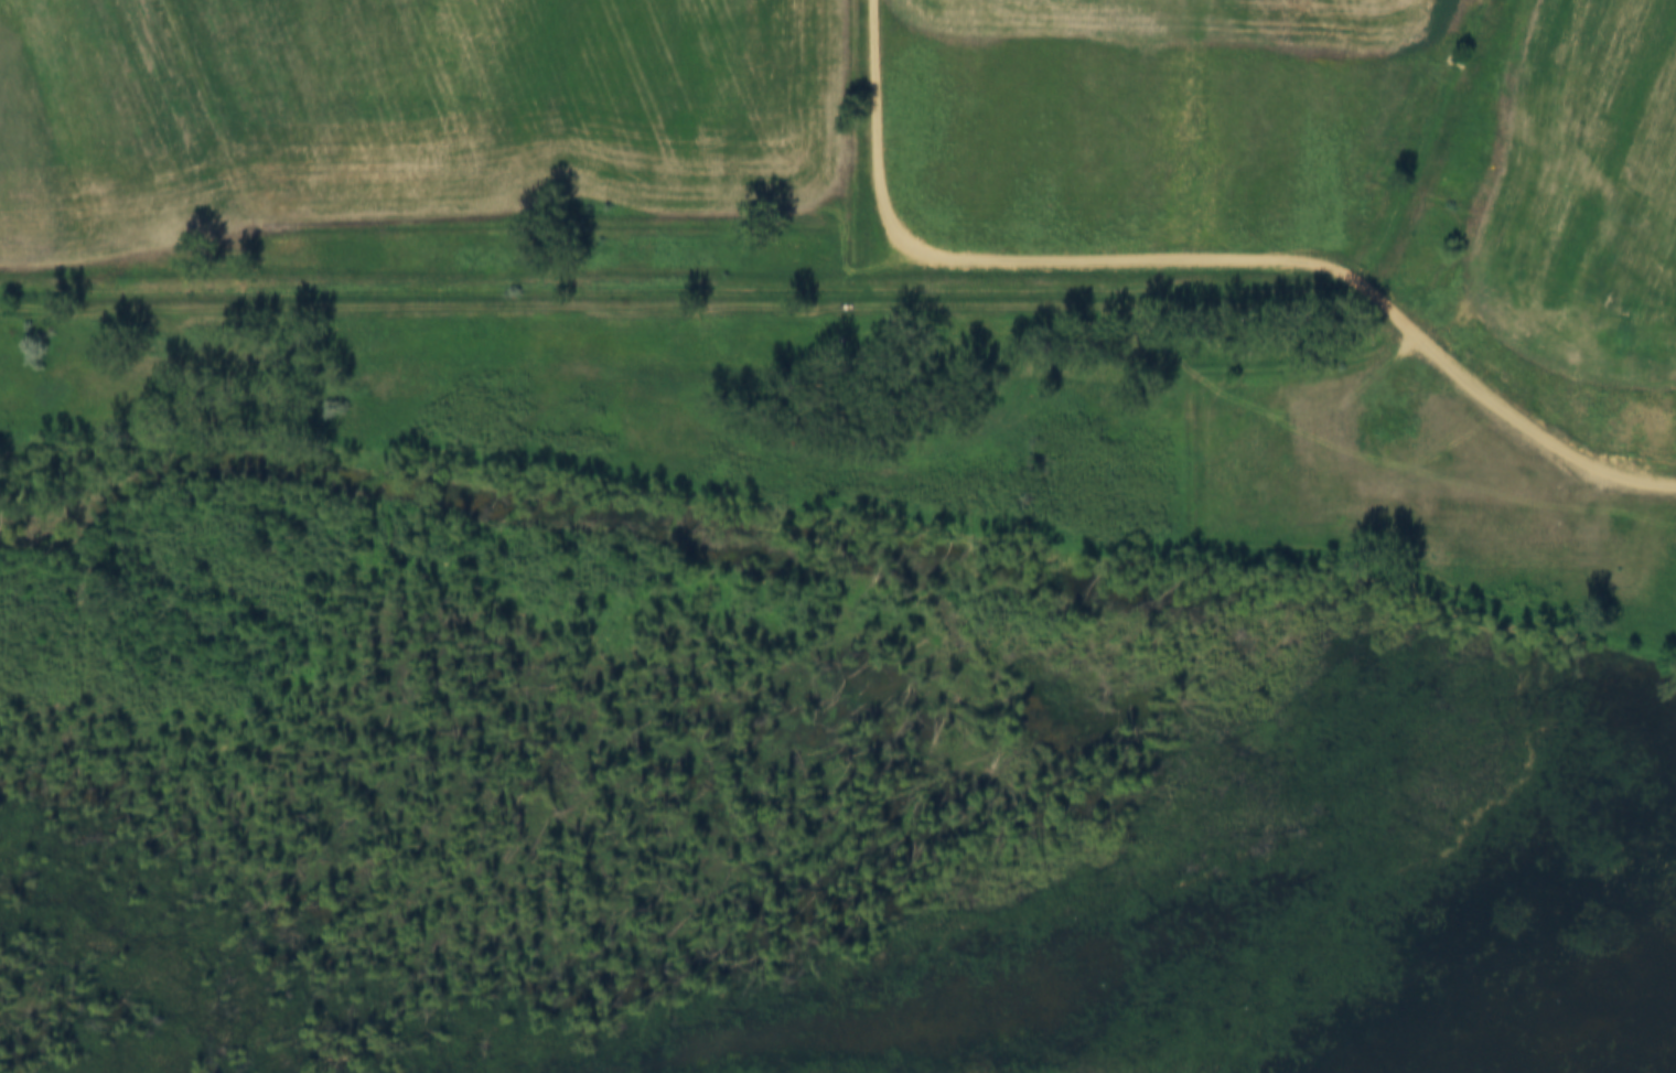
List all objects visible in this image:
road: (1200, 265)

